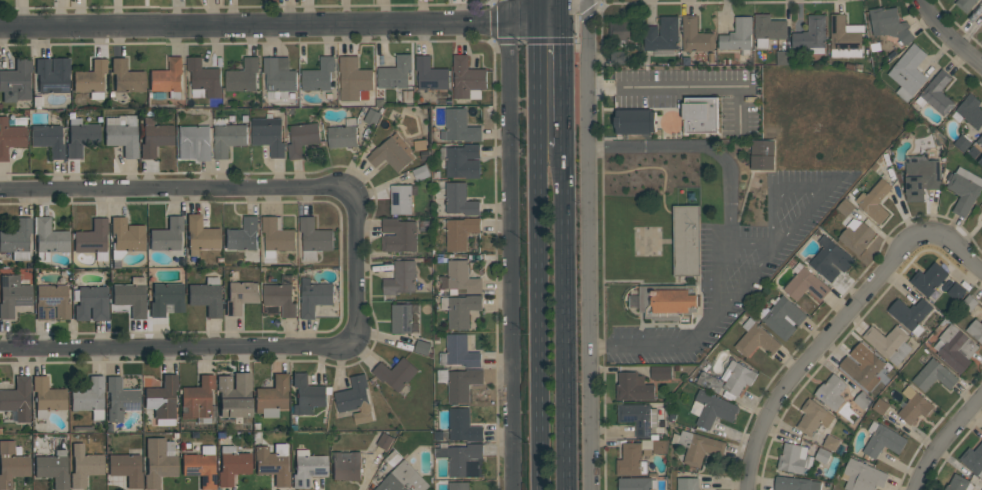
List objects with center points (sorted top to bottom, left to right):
building: (965, 4)
road: (560, 11)
road: (533, 22)
traffic signals: (533, 22)
traffic signals: (561, 23)
building: (890, 24)
road: (253, 25)
building: (768, 29)
building: (622, 31)
building: (812, 33)
building: (662, 34)
road: (949, 34)
building: (695, 36)
building: (738, 36)
building: (845, 37)
building: (617, 57)
building: (782, 57)
building: (908, 71)
building: (395, 73)
building: (431, 74)
building: (52, 75)
building: (319, 75)
building: (243, 76)
building: (279, 77)
building: (126, 78)
building: (204, 78)
building: (467, 78)
building: (91, 79)
building: (167, 79)
building: (354, 79)
building: (16, 82)
road: (562, 84)
road: (660, 87)
building: (936, 93)
road: (609, 109)
building: (969, 111)
building: (372, 117)
road: (602, 117)
park: (606, 117)
building: (671, 118)
building: (459, 126)
building: (268, 134)
building: (343, 134)
building: (122, 136)
building: (80, 137)
building: (10, 138)
building: (154, 138)
building: (302, 138)
building: (228, 139)
building: (48, 140)
building: (980, 141)
building: (962, 142)
building: (194, 143)
building: (392, 153)
building: (762, 154)
building: (462, 161)
building: (980, 161)
building: (421, 172)
building: (921, 178)
building: (964, 190)
building: (402, 198)
building: (460, 199)
building: (875, 201)
building: (845, 207)
building: (981, 208)
building: (460, 232)
building: (243, 235)
building: (398, 235)
building: (856, 235)
building: (167, 236)
building: (201, 236)
building: (276, 237)
building: (314, 238)
road: (603, 238)
building: (17, 239)
building: (48, 239)
building: (92, 240)
building: (125, 240)
building: (687, 240)
road: (752, 241)
road: (534, 244)
road: (592, 244)
road: (508, 245)
building: (830, 259)
road: (356, 269)
building: (401, 278)
building: (460, 278)
building: (929, 279)
road: (625, 281)
road: (670, 283)
building: (805, 284)
building: (12, 295)
building: (240, 296)
building: (131, 297)
building: (206, 297)
building: (314, 297)
building: (280, 298)
building: (165, 299)
building: (669, 302)
building: (51, 303)
building: (90, 303)
building: (460, 310)
building: (910, 313)
building: (783, 317)
building: (401, 318)
road: (564, 318)
road: (839, 324)
building: (975, 329)
building: (756, 339)
building: (889, 343)
building: (423, 347)
building: (955, 348)
building: (459, 352)
building: (862, 365)
building: (661, 372)
building: (396, 373)
building: (933, 375)
building: (738, 378)
building: (710, 382)
building: (460, 383)
building: (633, 387)
building: (831, 391)
building: (307, 395)
building: (234, 396)
building: (47, 397)
building: (271, 397)
building: (89, 398)
building: (17, 399)
building: (197, 399)
building: (355, 399)
building: (120, 400)
building: (162, 400)
building: (862, 400)
building: (880, 406)
building: (914, 406)
building: (712, 409)
building: (638, 417)
building: (813, 417)
building: (463, 426)
building: (883, 440)
road: (943, 440)
building: (385, 441)
building: (831, 443)
building: (660, 446)
building: (697, 446)
building: (822, 455)
building: (462, 458)
building: (793, 458)
building: (973, 459)
building: (629, 460)
building: (158, 461)
building: (272, 464)
building: (11, 465)
building: (232, 465)
building: (346, 465)
building: (84, 466)
building: (200, 467)
building: (307, 468)
building: (52, 469)
building: (126, 469)
building: (862, 476)
building: (403, 479)
building: (636, 483)
building: (795, 483)
building: (957, 483)
building: (688, 484)
building: (458, 485)

